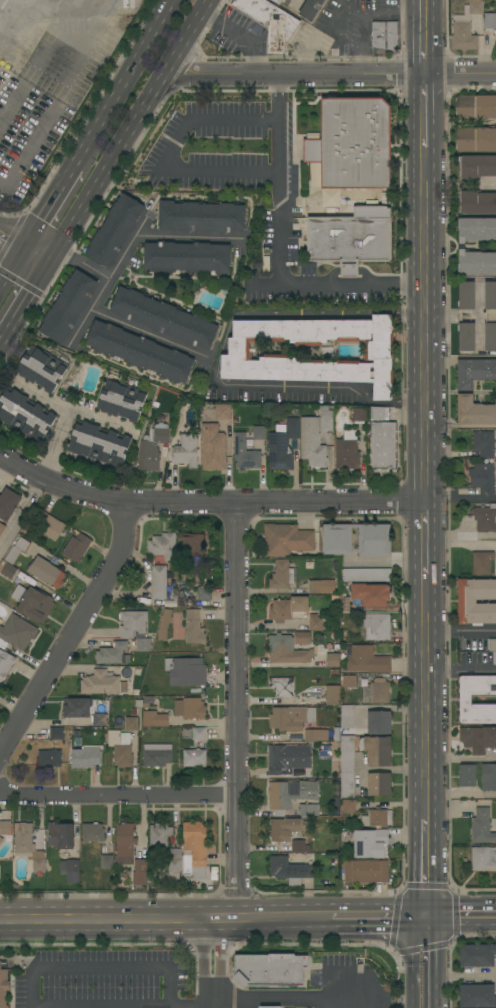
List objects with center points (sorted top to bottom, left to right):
building: (277, 1)
building: (299, 3)
road: (49, 4)
building: (476, 7)
building: (311, 9)
road: (355, 11)
building: (490, 20)
road: (9, 21)
building: (270, 21)
road: (239, 34)
building: (384, 35)
road: (186, 37)
road: (421, 37)
building: (463, 37)
road: (361, 43)
road: (85, 61)
road: (459, 73)
road: (293, 74)
road: (124, 82)
building: (476, 106)
road: (422, 110)
building: (313, 134)
building: (476, 139)
building: (355, 142)
building: (312, 150)
road: (165, 158)
building: (477, 166)
road: (107, 167)
road: (279, 180)
parking lot: (246, 186)
building: (477, 202)
road: (51, 205)
building: (201, 216)
building: (477, 229)
building: (114, 230)
road: (189, 238)
road: (12, 239)
building: (349, 241)
traffic signals: (25, 246)
road: (125, 248)
road: (37, 253)
building: (188, 257)
traffic signals: (50, 261)
building: (476, 263)
road: (12, 266)
road: (102, 286)
road: (339, 287)
road: (25, 301)
building: (68, 306)
building: (466, 316)
building: (490, 316)
building: (164, 318)
road: (424, 324)
road: (148, 332)
building: (139, 351)
building: (312, 351)
road: (218, 356)
building: (41, 368)
building: (475, 372)
building: (122, 400)
building: (223, 411)
building: (474, 411)
building: (379, 413)
building: (25, 414)
building: (358, 414)
building: (160, 417)
building: (326, 419)
building: (159, 425)
road: (459, 426)
building: (259, 433)
building: (151, 435)
building: (161, 436)
road: (55, 441)
building: (99, 443)
building: (312, 443)
building: (483, 443)
building: (282, 445)
building: (383, 445)
building: (213, 447)
building: (186, 451)
building: (347, 451)
building: (163, 453)
building: (245, 453)
building: (148, 456)
building: (482, 478)
road: (459, 501)
building: (8, 503)
road: (206, 504)
road: (20, 510)
building: (485, 518)
building: (48, 525)
building: (2, 528)
road: (423, 532)
road: (460, 534)
building: (287, 539)
building: (337, 539)
building: (374, 540)
building: (193, 545)
road: (460, 545)
building: (163, 546)
building: (76, 547)
building: (17, 549)
road: (387, 561)
building: (481, 562)
building: (7, 569)
building: (46, 572)
building: (280, 574)
building: (365, 574)
building: (159, 581)
building: (315, 586)
building: (17, 591)
building: (204, 593)
building: (373, 596)
building: (467, 601)
building: (35, 604)
building: (344, 604)
building: (288, 609)
building: (315, 622)
building: (132, 623)
building: (164, 624)
building: (178, 626)
building: (377, 626)
building: (194, 627)
road: (71, 629)
road: (460, 630)
building: (17, 631)
building: (302, 637)
building: (104, 643)
building: (143, 644)
building: (492, 649)
building: (287, 650)
building: (113, 654)
building: (333, 659)
building: (366, 660)
building: (5, 663)
road: (461, 669)
building: (187, 672)
building: (349, 681)
building: (102, 683)
building: (282, 686)
road: (427, 689)
building: (376, 691)
building: (333, 695)
building: (465, 699)
building: (189, 708)
building: (86, 709)
road: (235, 712)
building: (347, 716)
building: (291, 718)
building: (154, 719)
building: (131, 723)
building: (379, 723)
building: (56, 733)
building: (199, 733)
building: (316, 735)
building: (478, 739)
building: (120, 748)
building: (376, 750)
building: (324, 752)
building: (157, 755)
building: (50, 758)
building: (84, 758)
building: (194, 758)
building: (288, 758)
road: (462, 758)
building: (347, 766)
building: (467, 775)
building: (488, 777)
building: (379, 784)
road: (117, 793)
building: (290, 794)
road: (461, 795)
building: (348, 805)
building: (309, 810)
building: (377, 818)
building: (482, 827)
building: (5, 828)
building: (286, 828)
building: (92, 832)
building: (160, 834)
building: (61, 835)
building: (343, 836)
building: (23, 837)
building: (38, 838)
building: (1, 839)
building: (370, 843)
building: (196, 846)
building: (299, 846)
building: (132, 852)
building: (35, 854)
building: (481, 858)
building: (107, 861)
building: (174, 863)
building: (39, 865)
road: (428, 867)
building: (70, 870)
building: (285, 870)
building: (308, 871)
building: (365, 871)
building: (213, 873)
road: (379, 917)
road: (462, 917)
road: (165, 920)
building: (477, 955)
road: (416, 961)
road: (433, 962)
road: (211, 964)
building: (270, 969)
road: (100, 971)
road: (464, 975)
road: (495, 975)
parking lot: (105, 980)
building: (3, 987)
road: (299, 996)
building: (477, 996)
road: (189, 1007)
building: (270, 1007)

